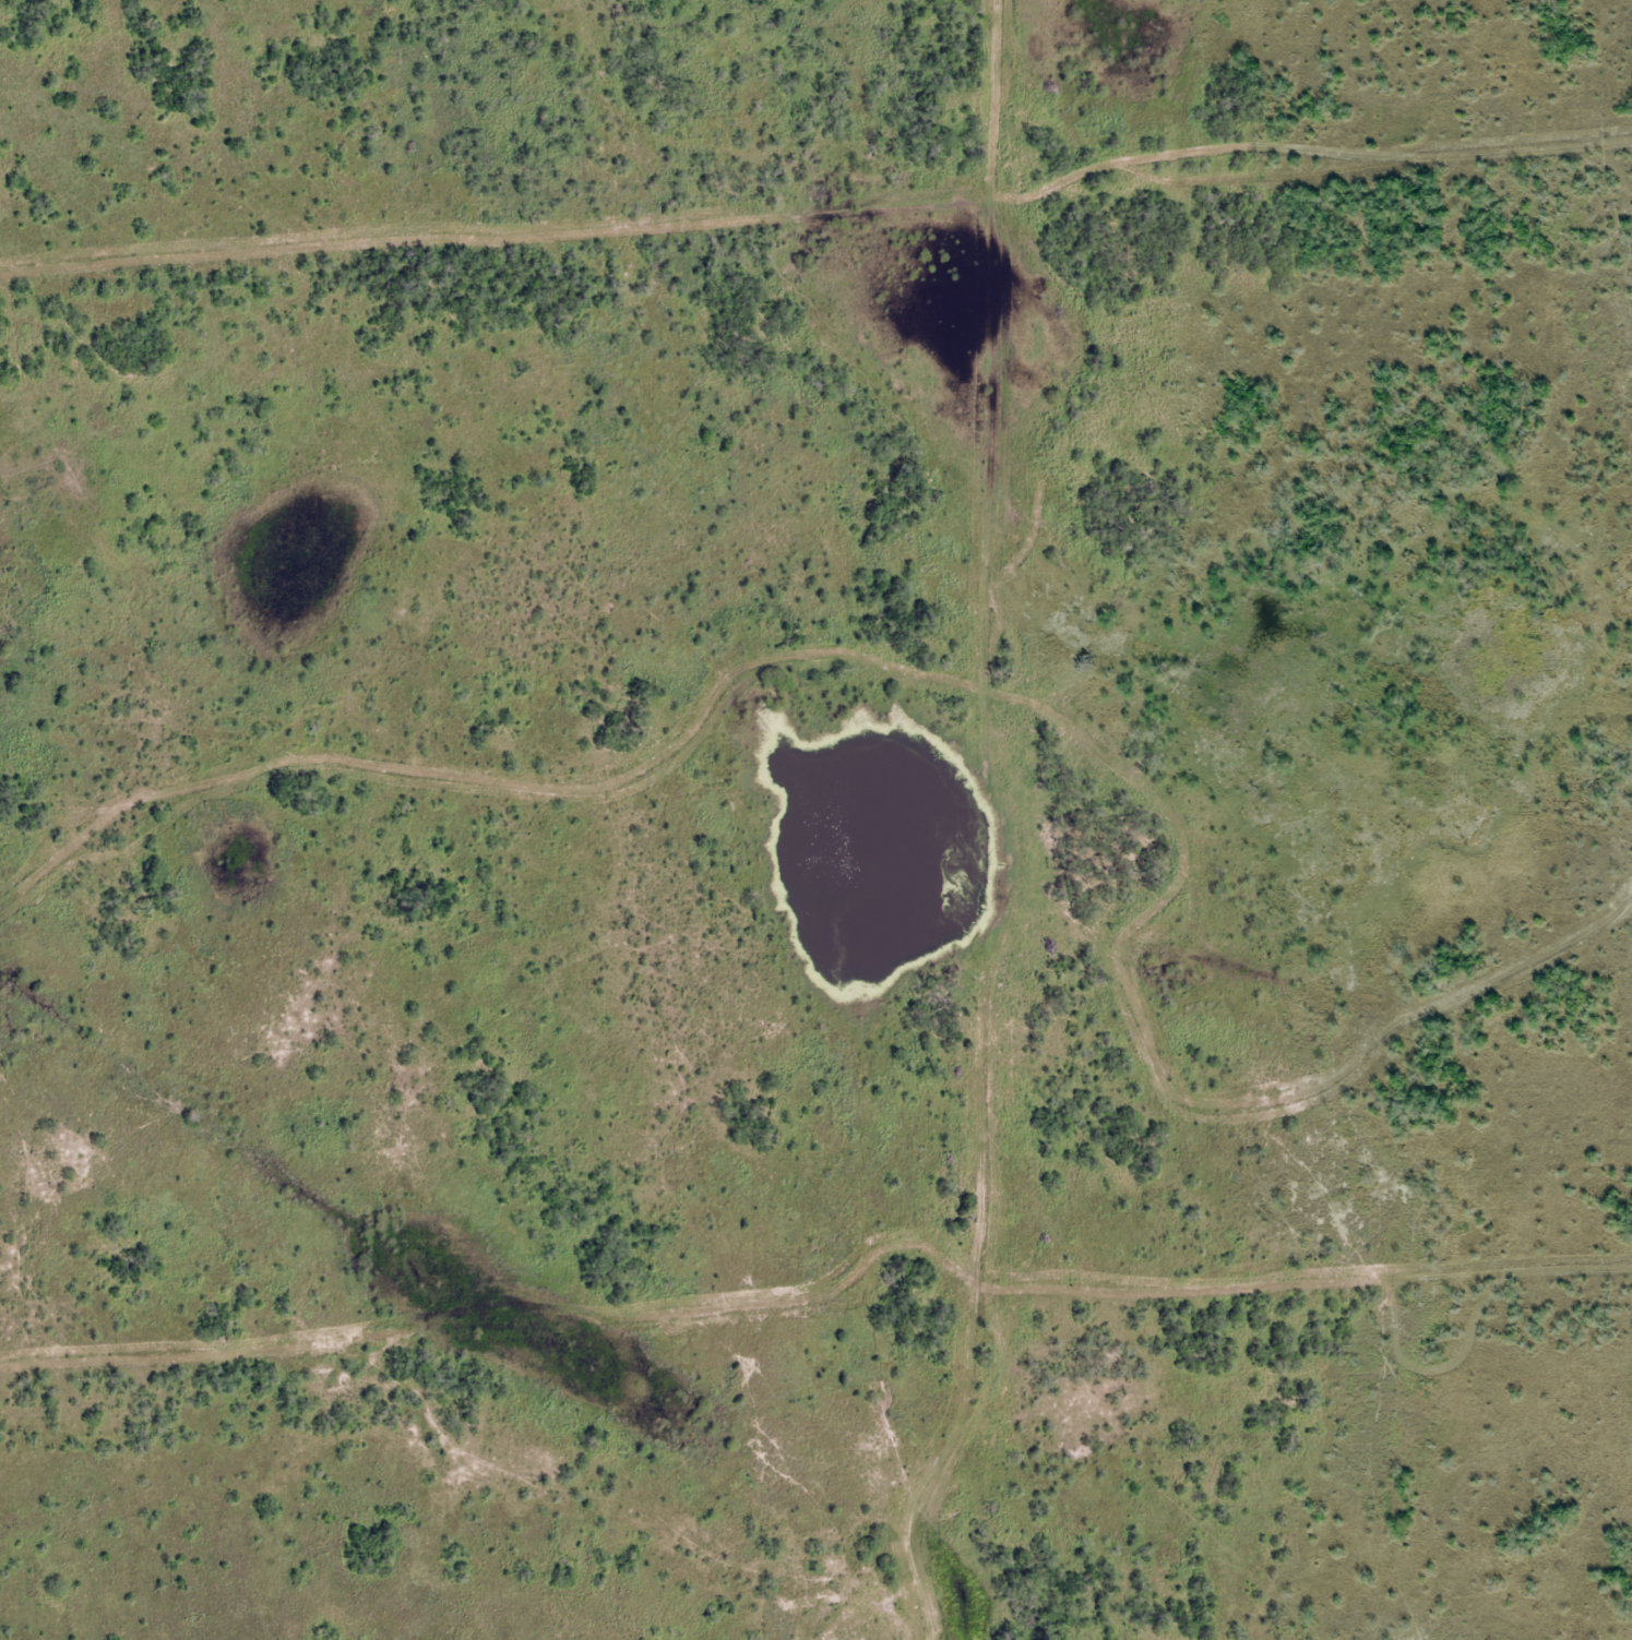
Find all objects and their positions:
road: (936, 819)

